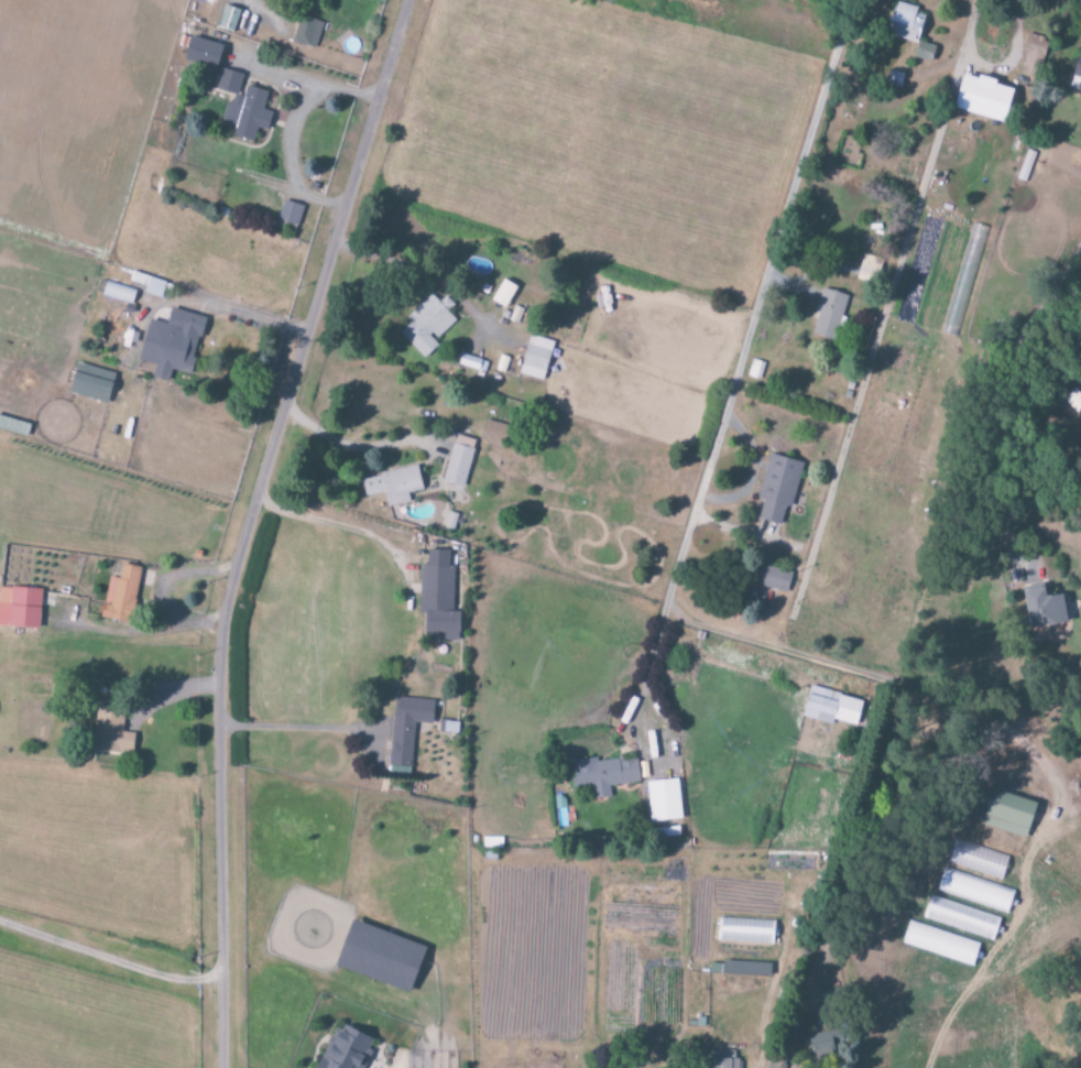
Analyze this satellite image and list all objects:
building: (229, 19)
building: (905, 23)
building: (307, 32)
building: (924, 53)
building: (201, 54)
building: (1033, 56)
building: (1078, 70)
road: (312, 90)
building: (982, 98)
building: (242, 108)
road: (291, 164)
building: (290, 214)
building: (869, 269)
building: (154, 288)
building: (503, 295)
building: (828, 315)
road: (241, 316)
building: (427, 325)
building: (171, 345)
building: (535, 358)
building: (90, 383)
road: (733, 386)
building: (491, 434)
road: (363, 449)
building: (458, 462)
building: (392, 487)
building: (777, 488)
road: (250, 523)
road: (343, 532)
building: (772, 579)
road: (164, 589)
building: (120, 595)
building: (438, 598)
building: (20, 607)
building: (1041, 607)
road: (856, 680)
road: (181, 698)
building: (830, 707)
building: (110, 729)
road: (294, 730)
building: (406, 733)
building: (604, 775)
building: (664, 800)
building: (1007, 814)
building: (974, 891)
building: (961, 918)
building: (745, 931)
building: (939, 944)
building: (378, 956)
road: (109, 958)
building: (345, 1049)
building: (721, 1060)

